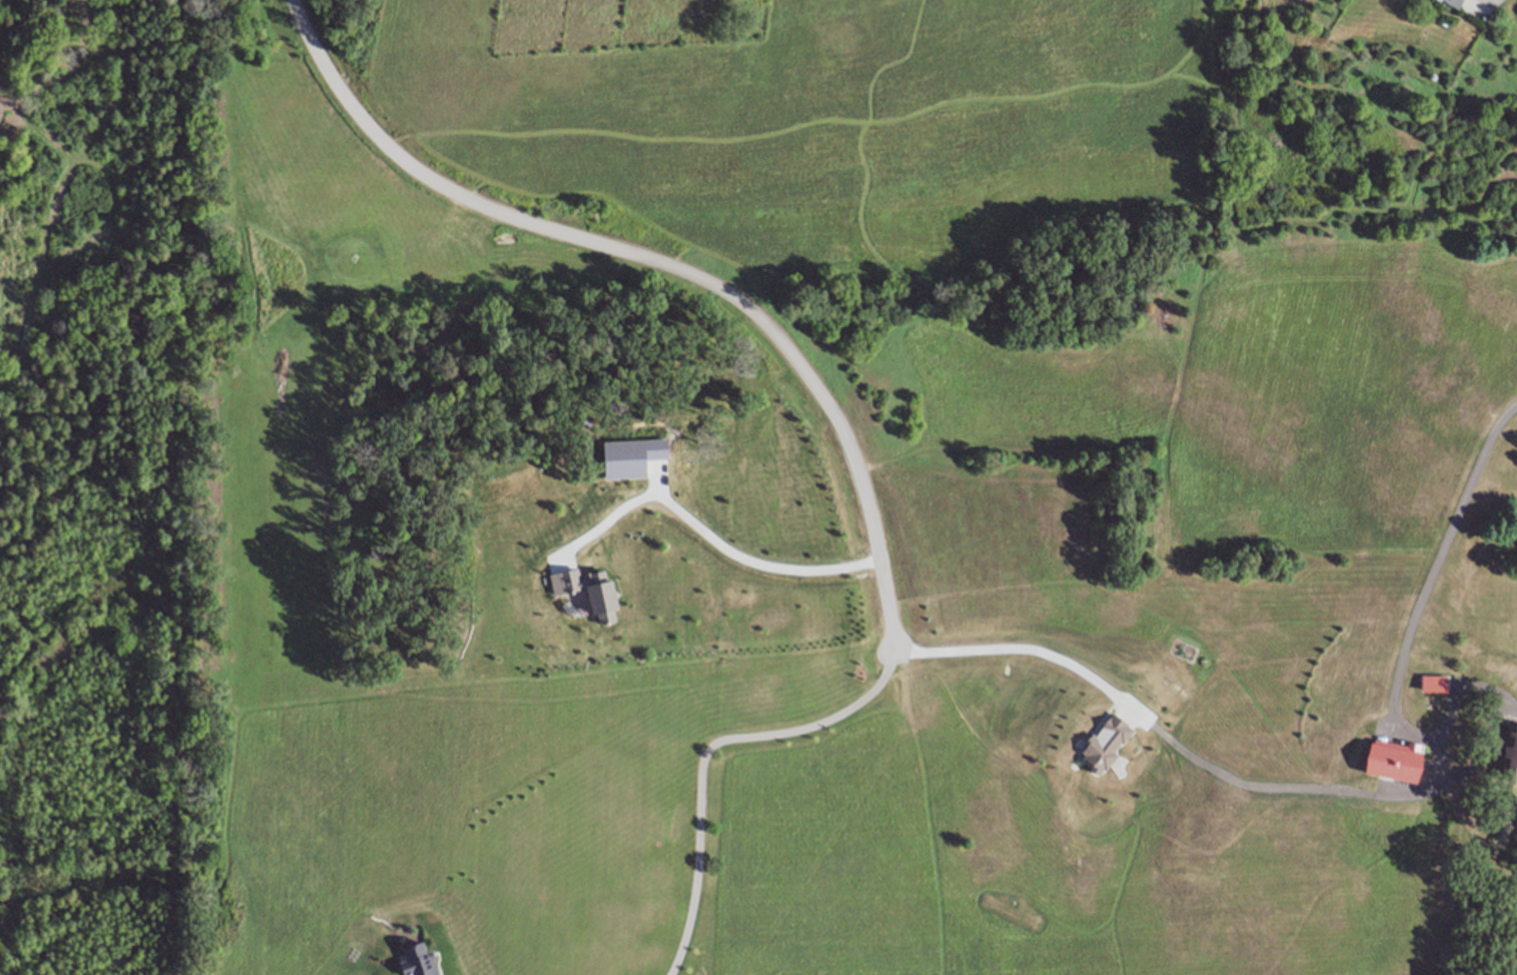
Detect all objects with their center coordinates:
building: (1450, 2)
road: (1493, 3)
building: (1482, 17)
road: (662, 268)
road: (710, 534)
road: (1435, 547)
road: (1016, 648)
building: (1431, 687)
road: (1453, 705)
road: (705, 754)
building: (1509, 757)
building: (1389, 764)
building: (420, 960)

